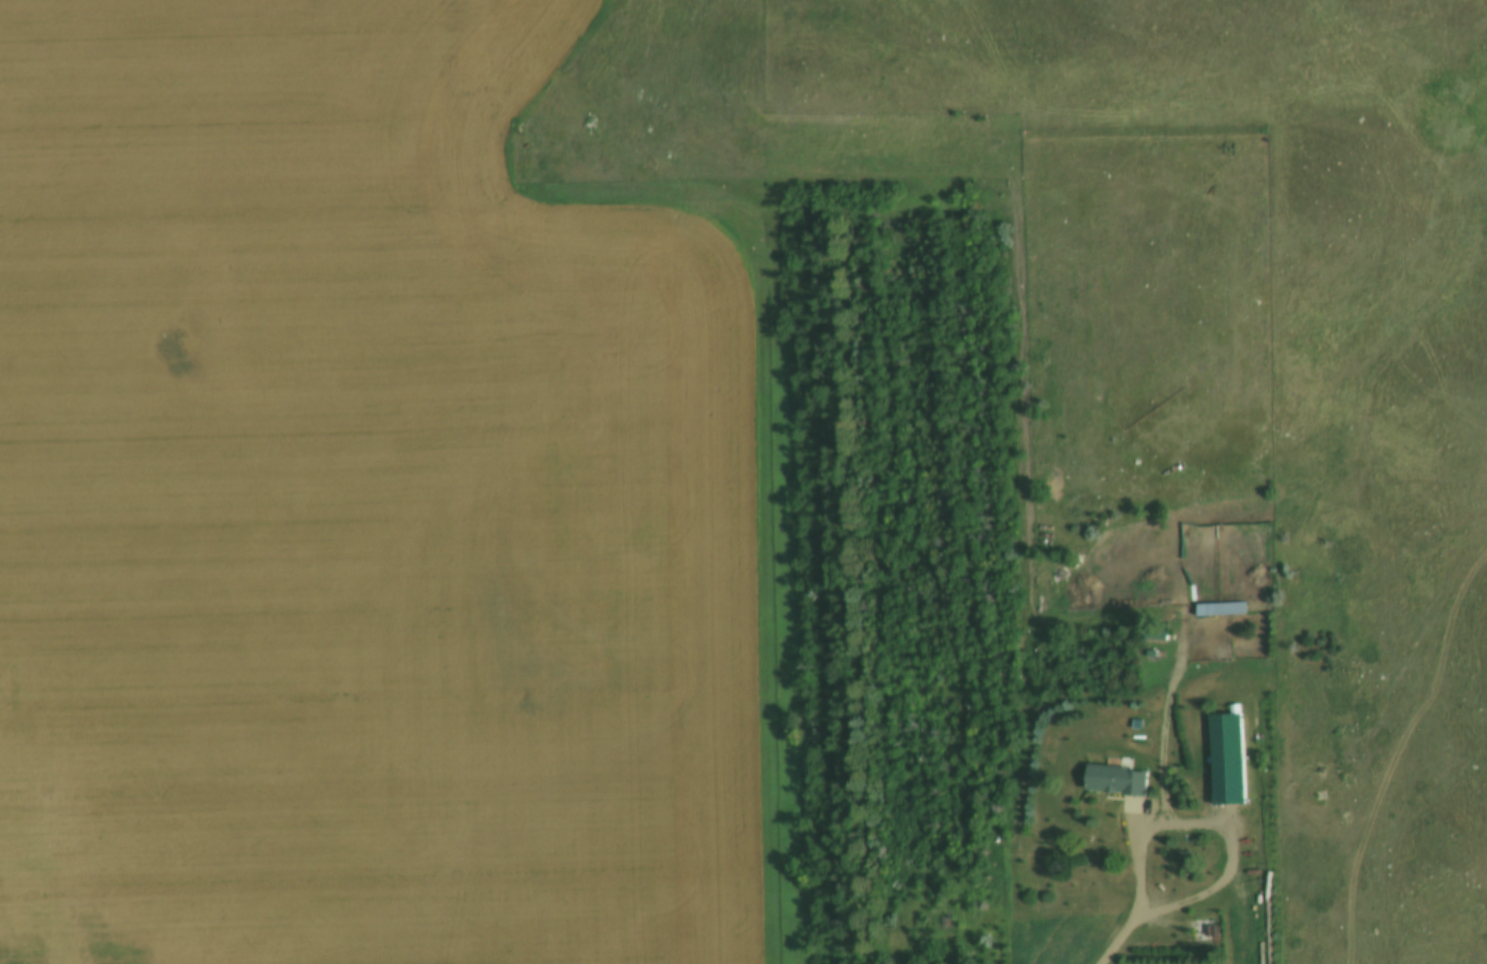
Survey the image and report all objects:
building: (1226, 610)
building: (1225, 741)
building: (1117, 781)
road: (1140, 889)
building: (1201, 932)

